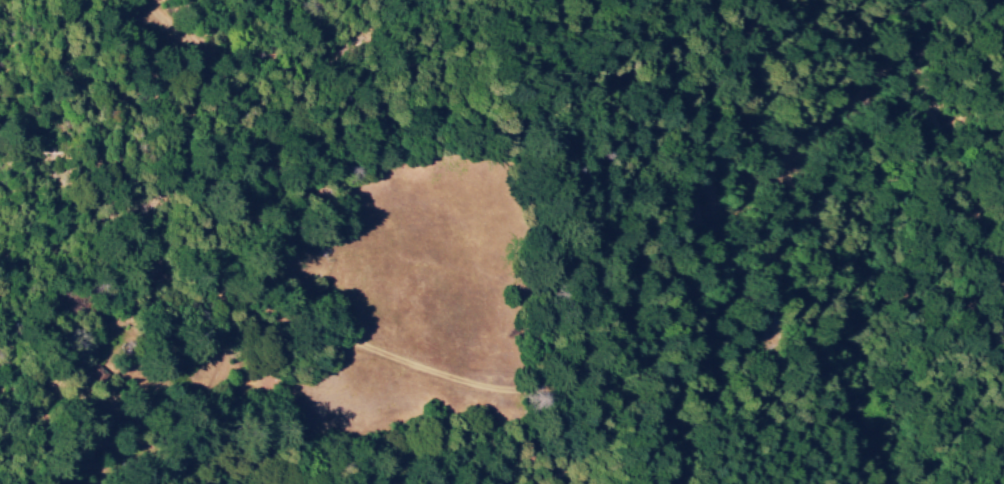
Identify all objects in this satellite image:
road: (1002, 281)

